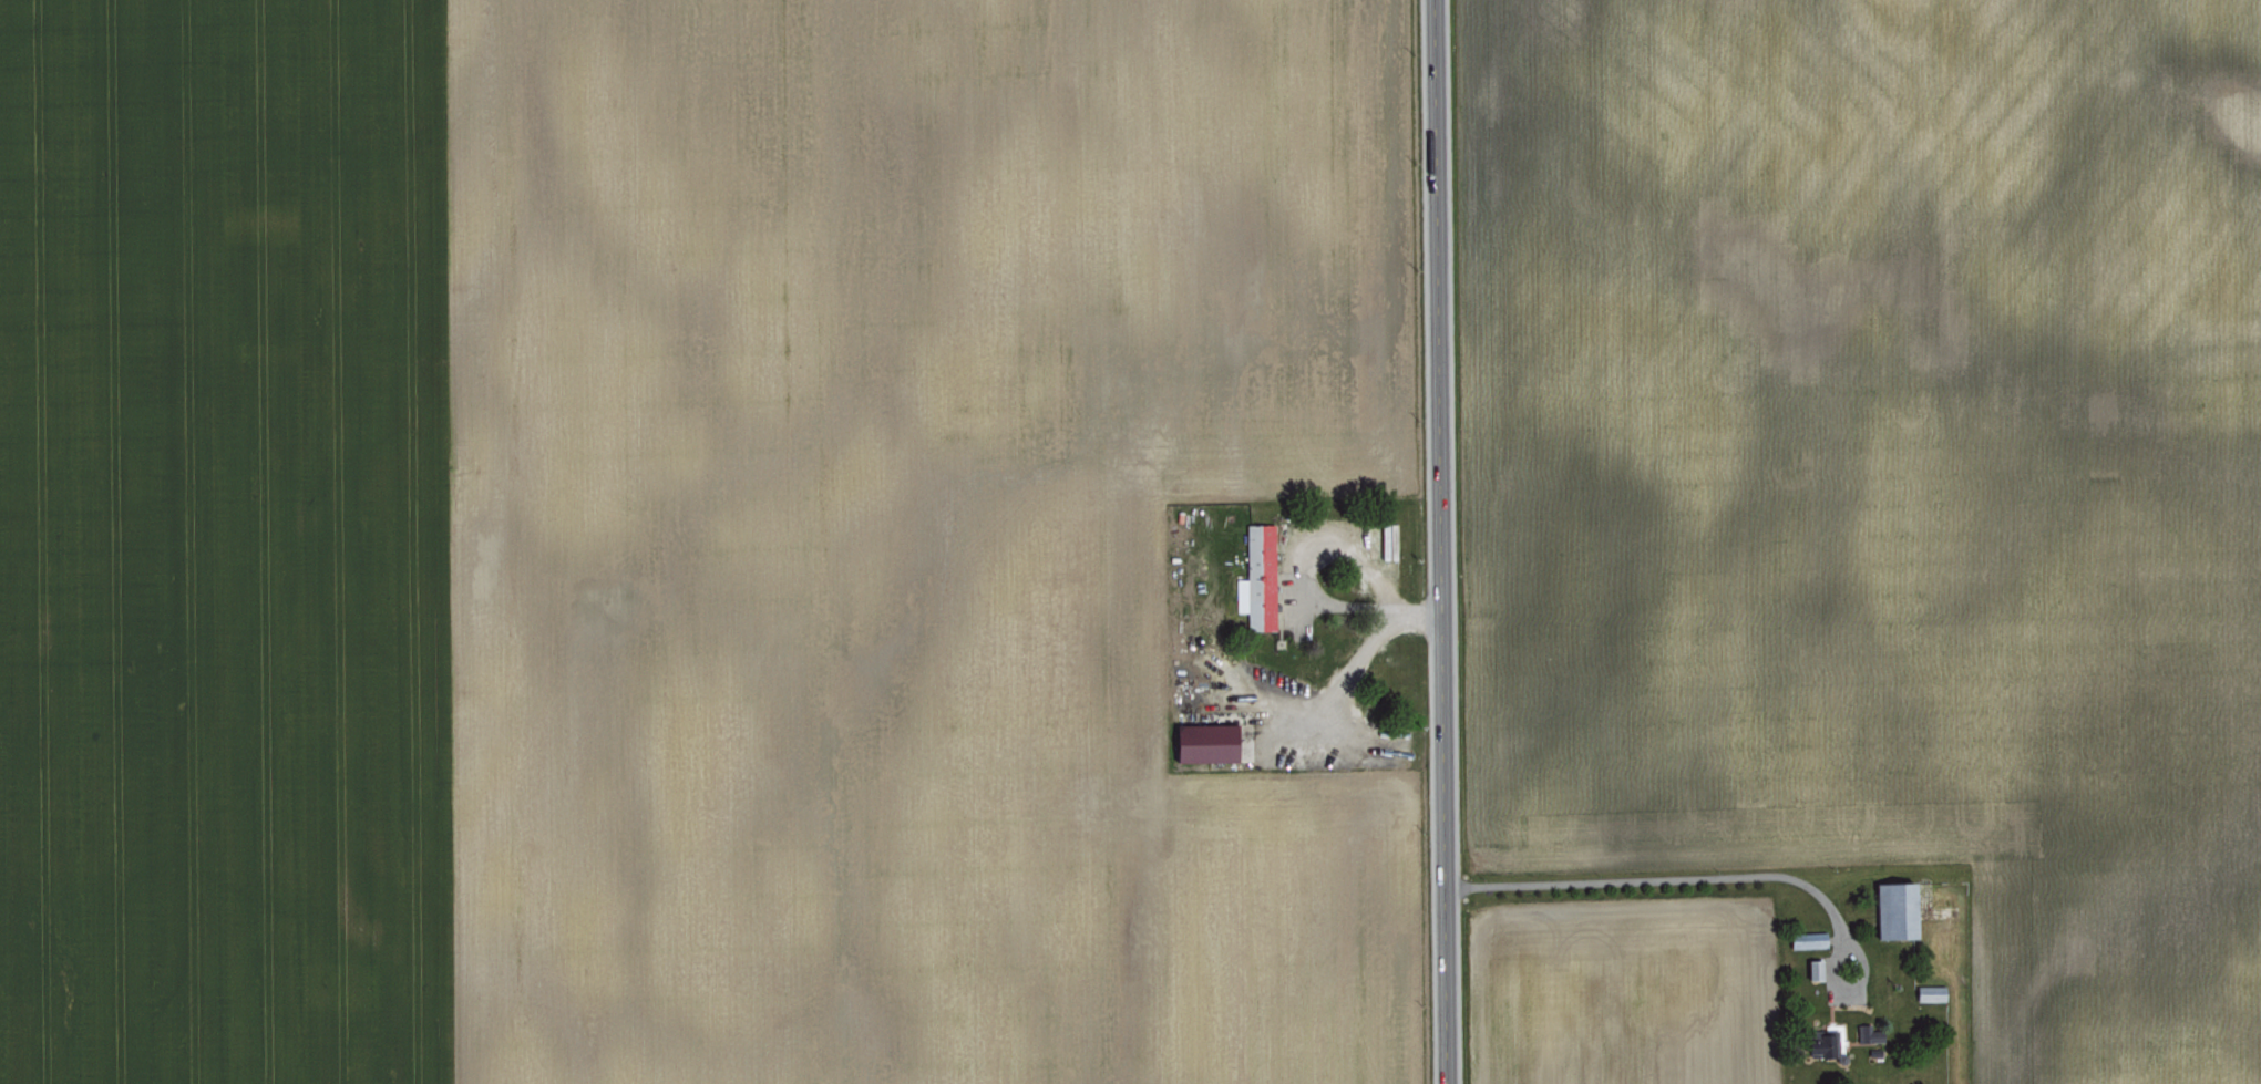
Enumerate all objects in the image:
road: (1440, 541)
building: (1256, 576)
road: (1339, 599)
road: (1352, 661)
building: (1202, 740)
road: (1699, 875)
building: (1892, 907)
building: (1806, 938)
building: (1813, 967)
building: (1929, 991)
building: (1867, 1031)
building: (1826, 1042)

